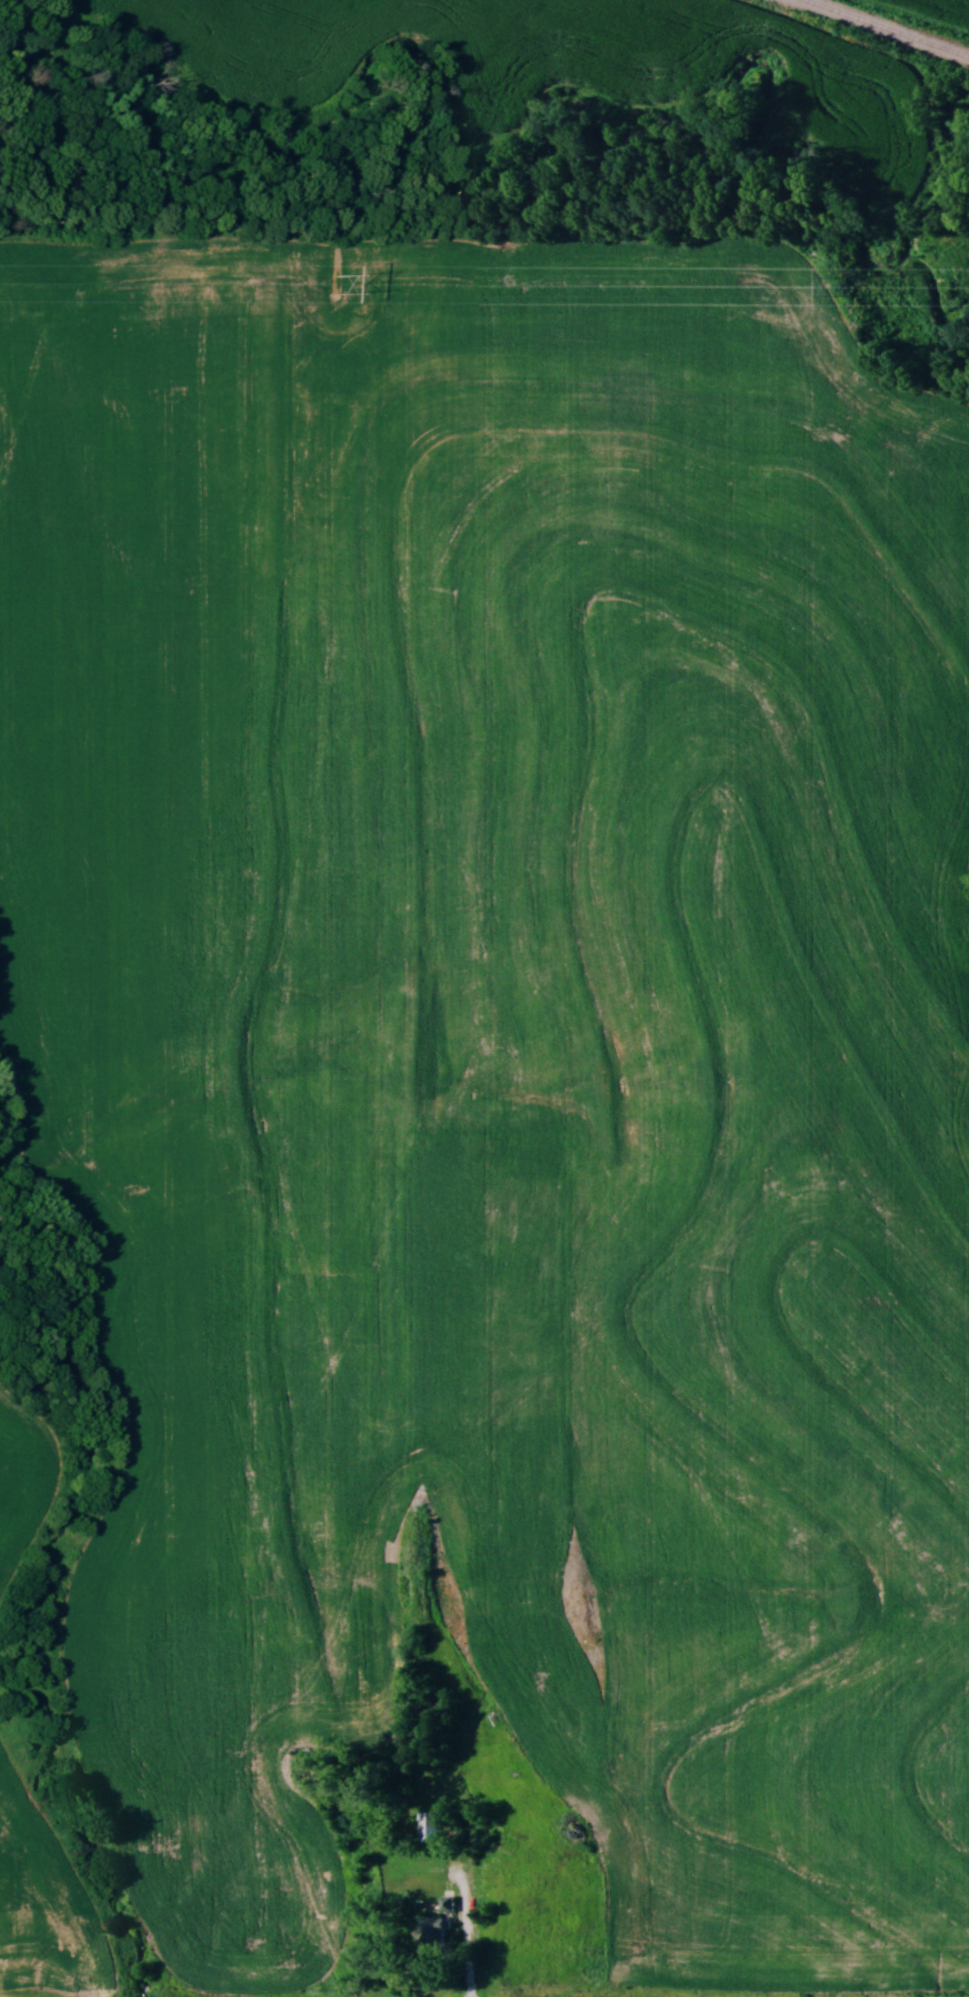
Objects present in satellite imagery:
railway: (891, 27)
power tower: (337, 285)
power tower: (831, 288)
building: (430, 1821)
road: (466, 1907)
building: (434, 1928)

